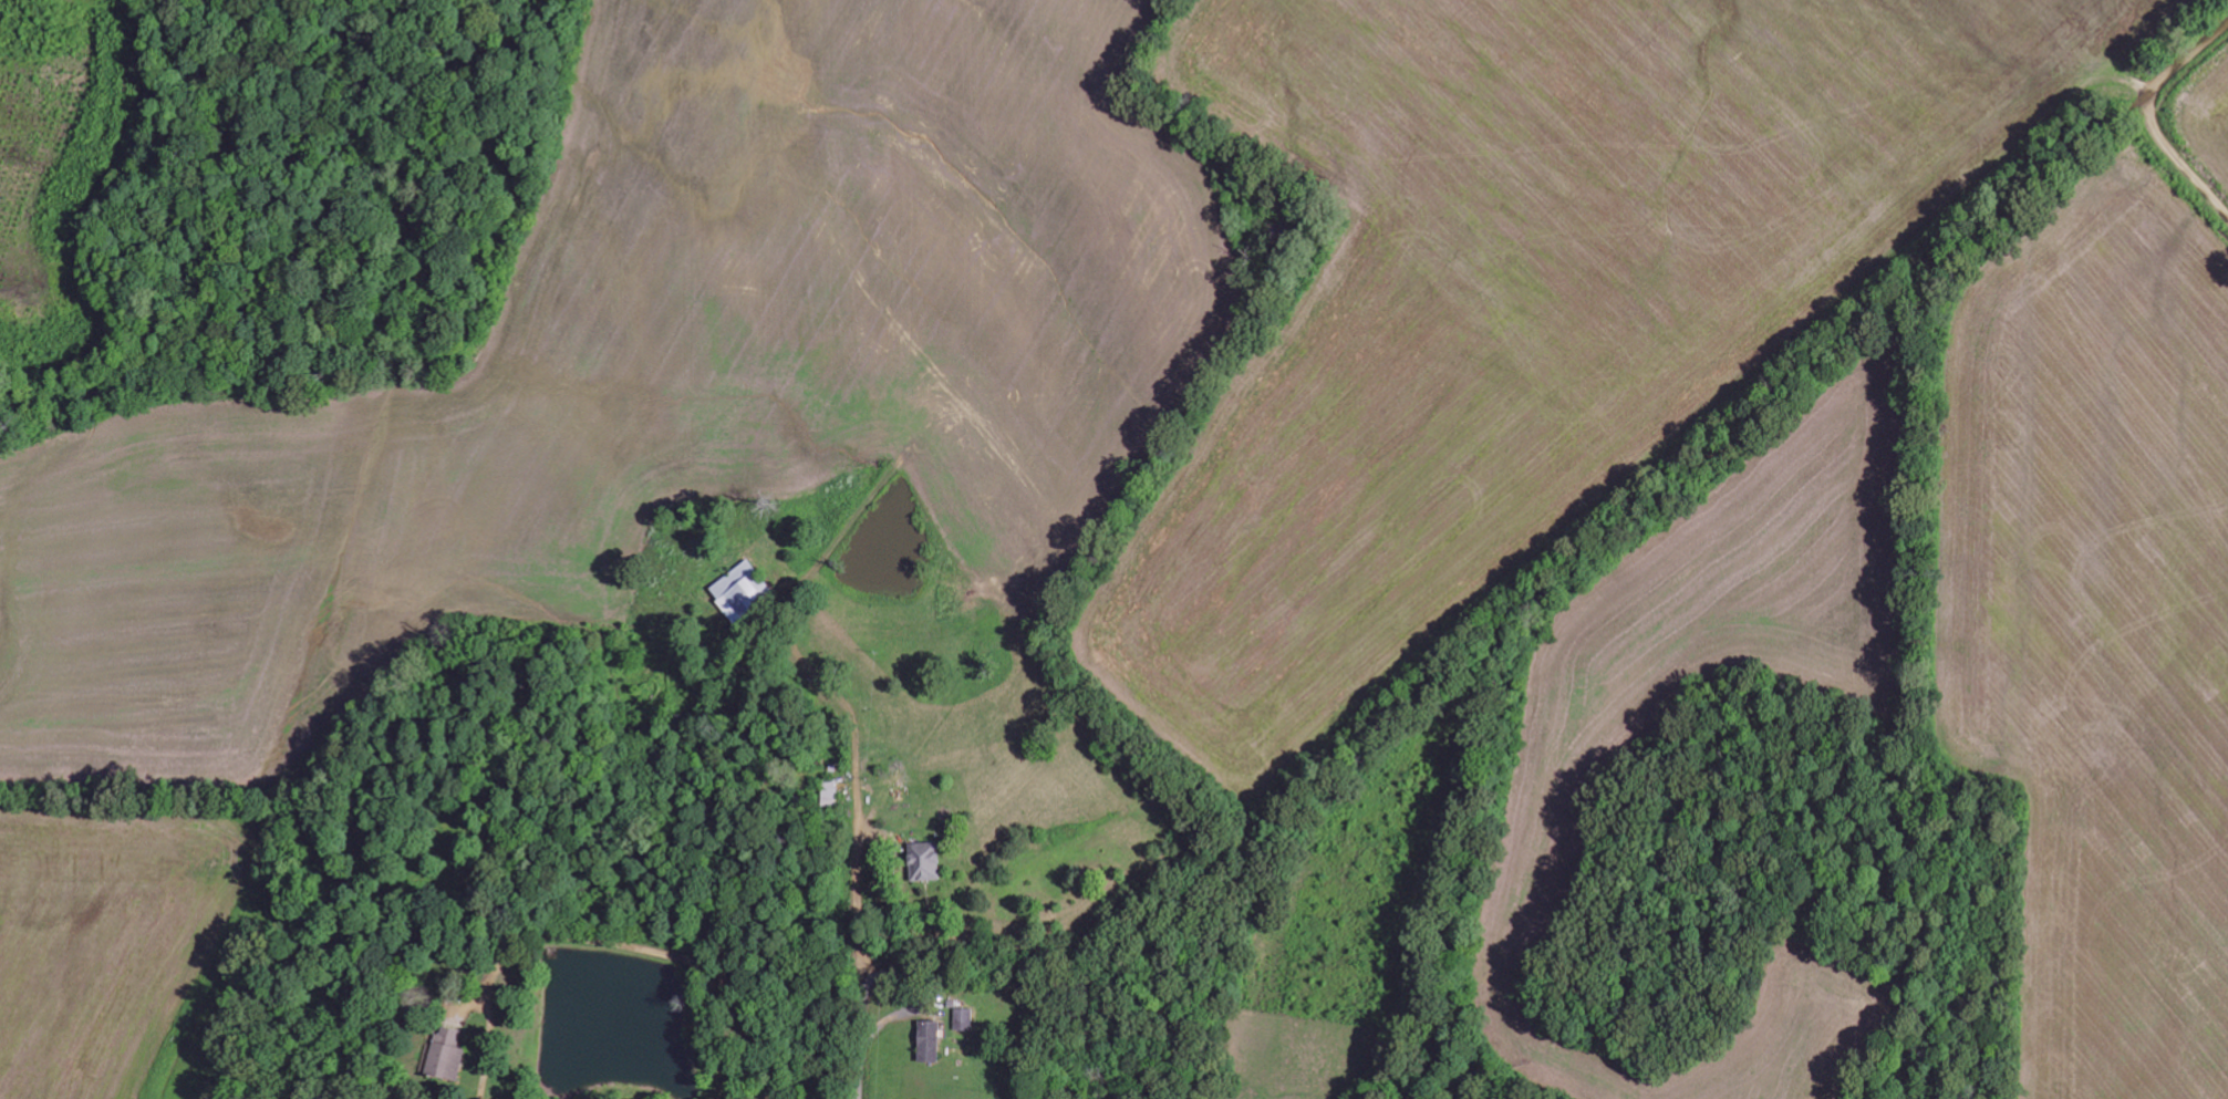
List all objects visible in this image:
road: (2153, 116)
building: (739, 589)
road: (1007, 599)
building: (830, 792)
building: (923, 861)
road: (892, 973)
building: (964, 1018)
building: (928, 1040)
building: (445, 1055)

